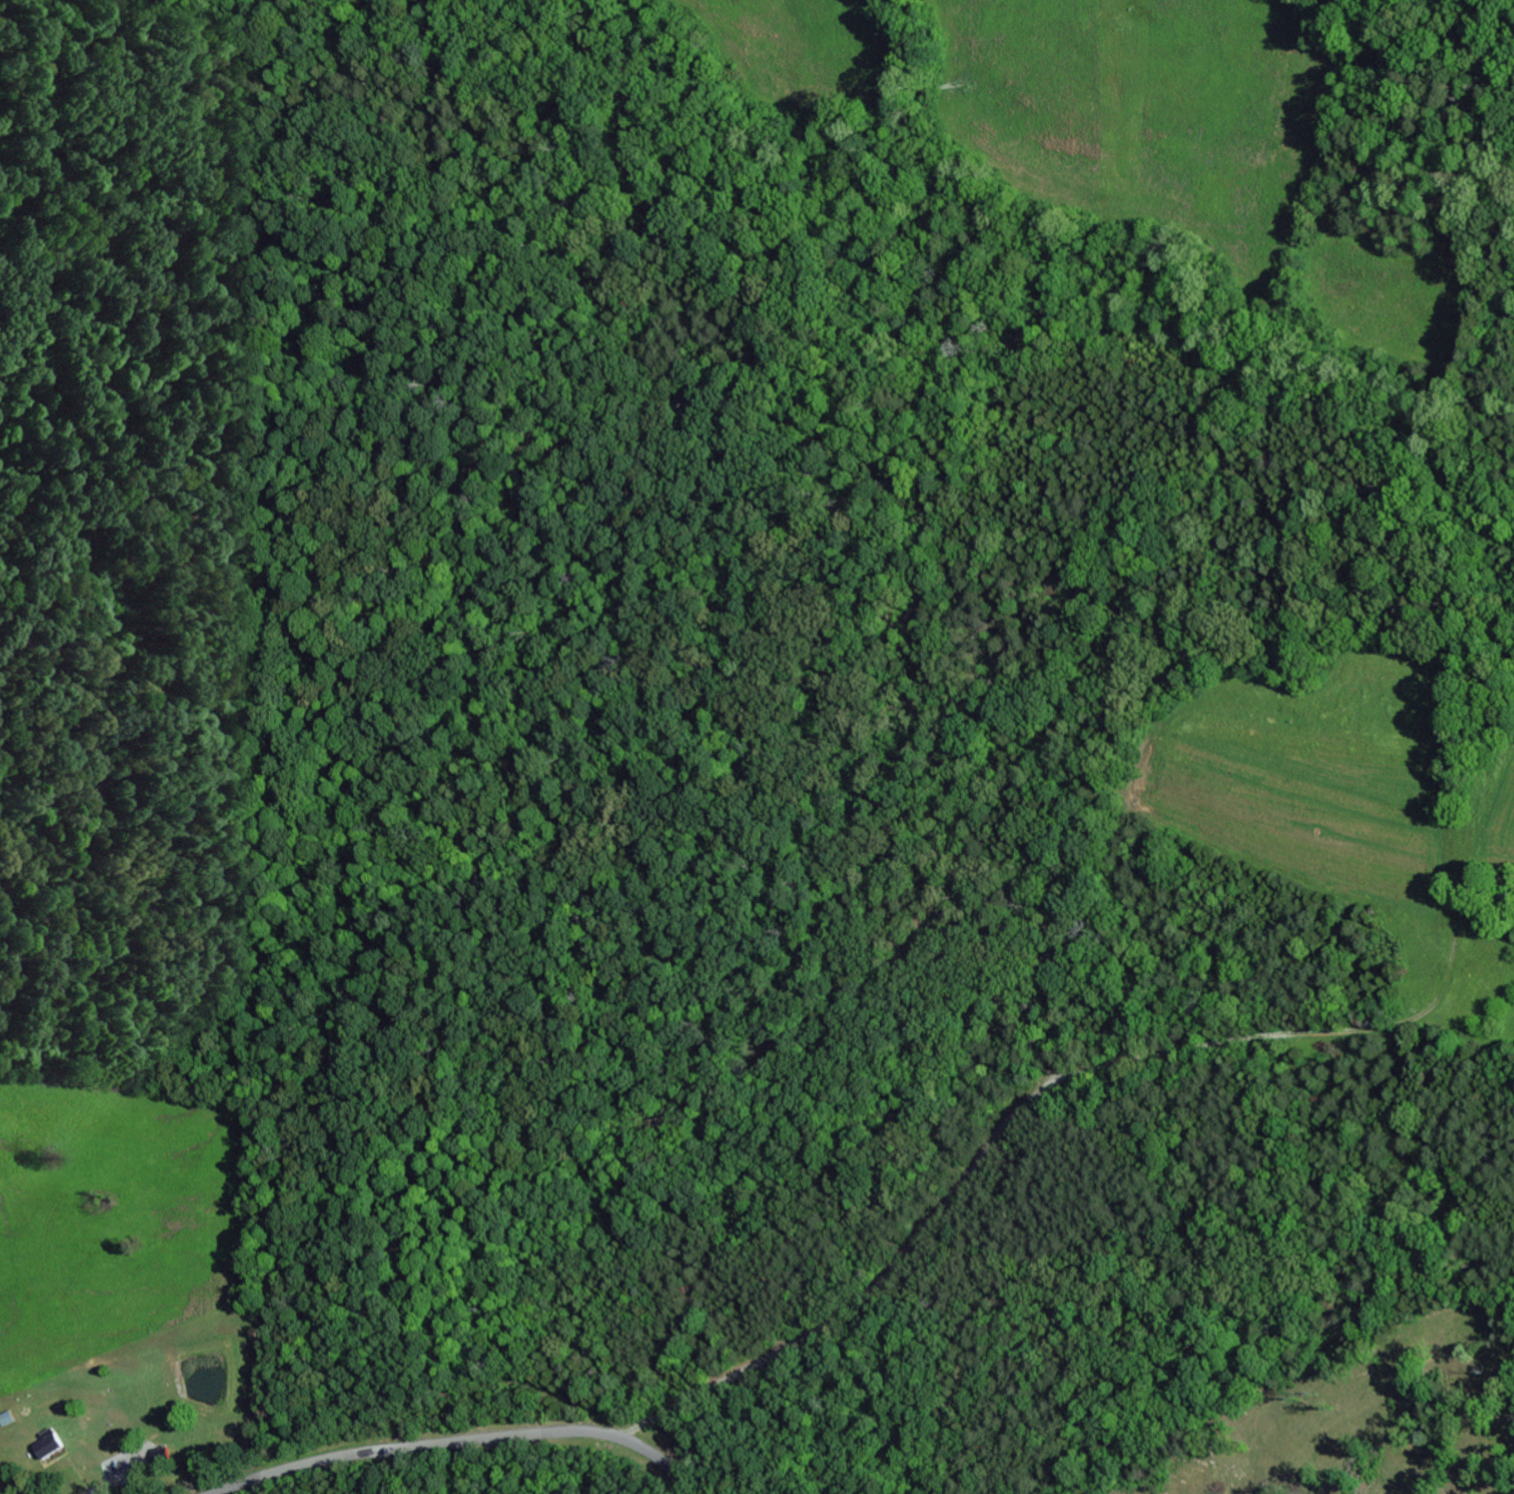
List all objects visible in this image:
road: (971, 1166)
building: (6, 1418)
road: (464, 1443)
building: (47, 1444)

